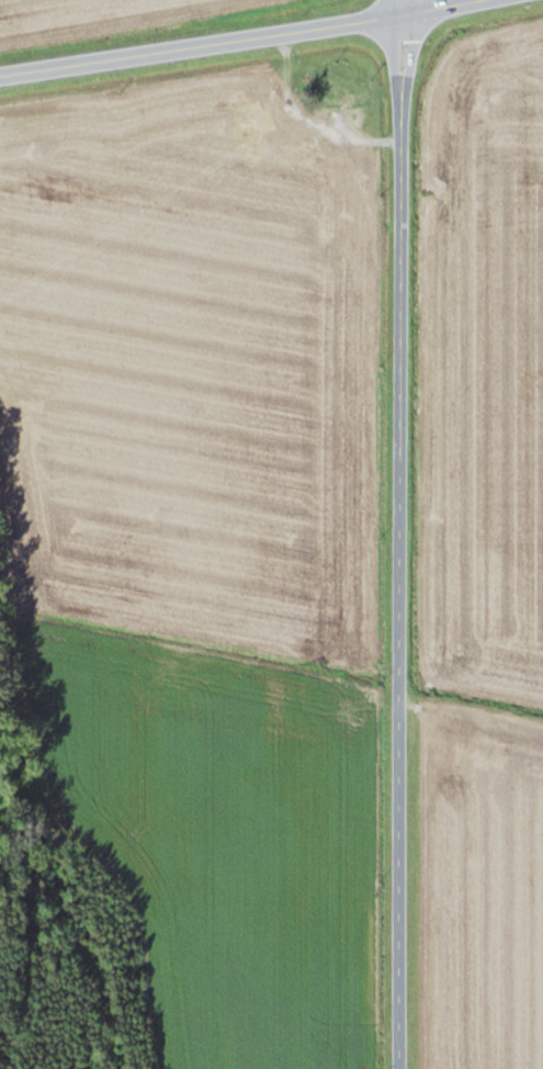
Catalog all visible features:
road: (235, 40)
road: (398, 533)

